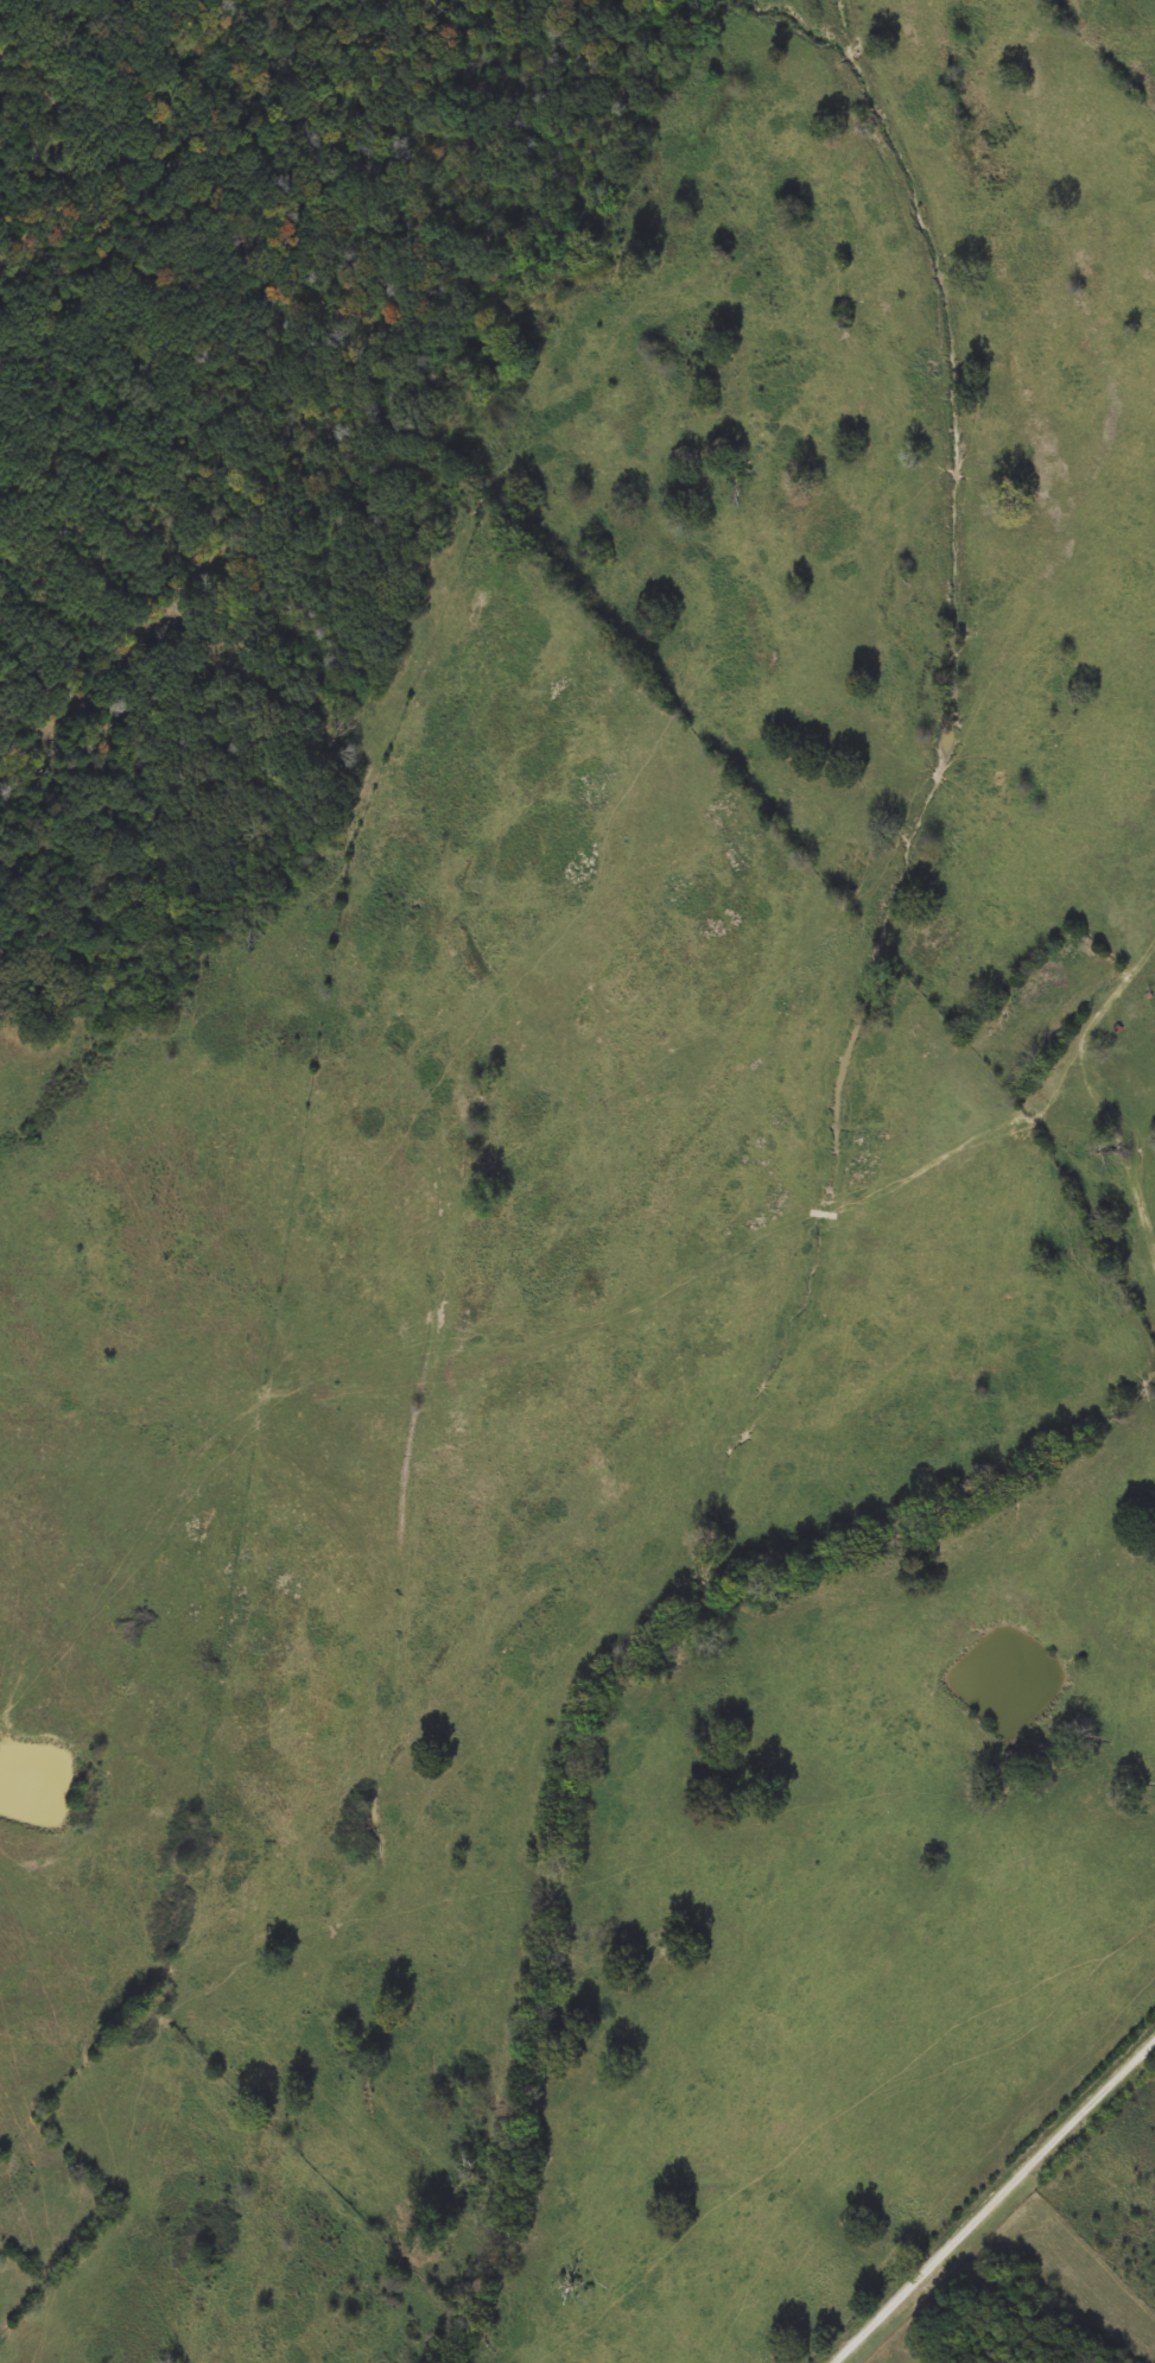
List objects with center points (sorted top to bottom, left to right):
road: (1131, 1155)
road: (995, 2200)

